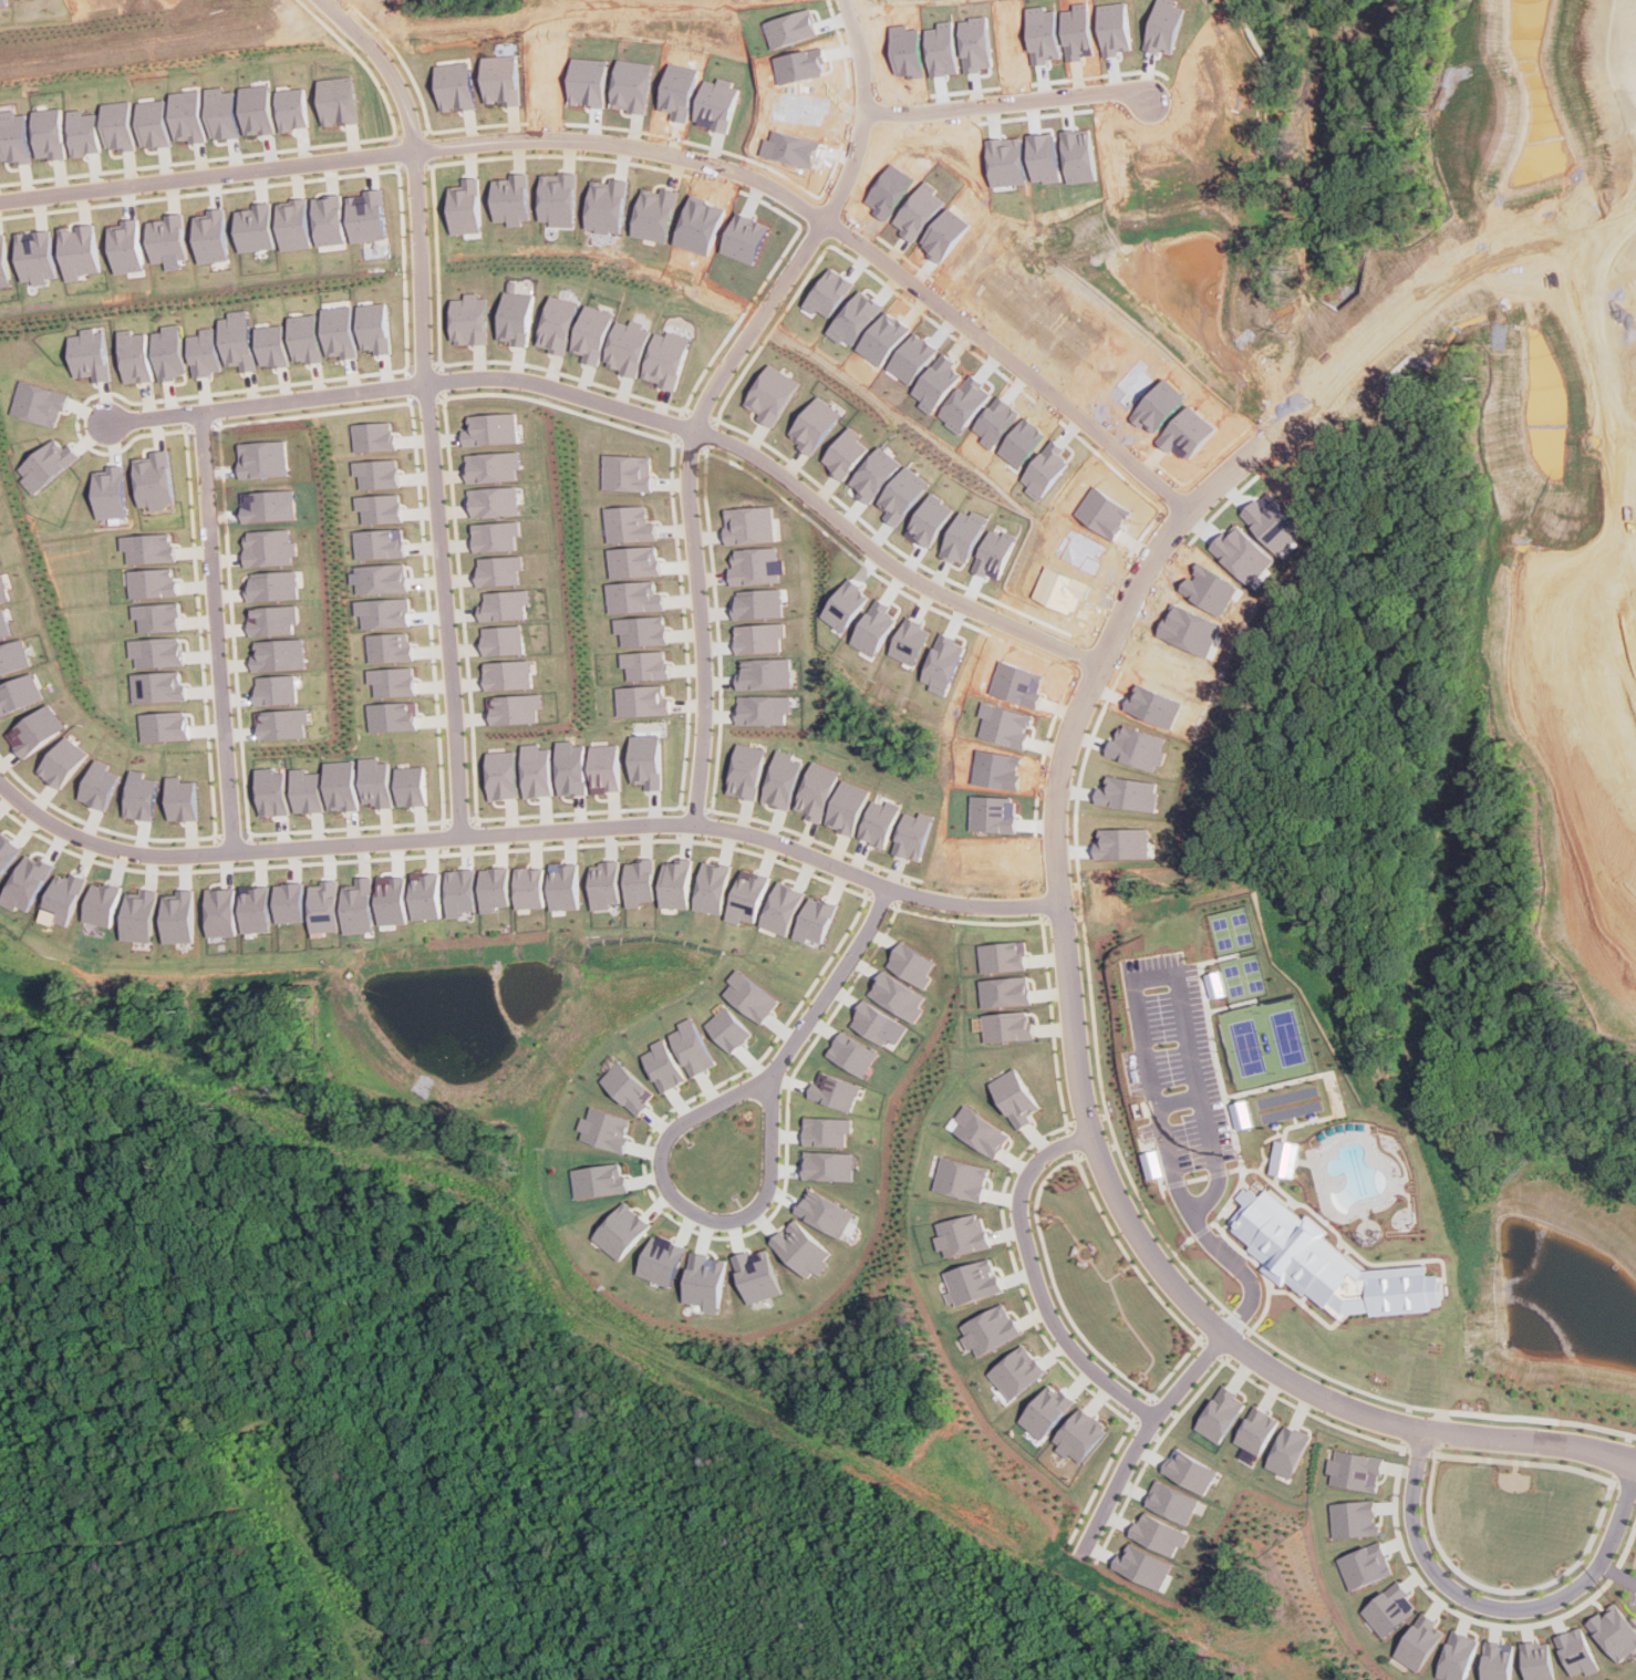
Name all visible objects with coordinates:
building: (500, 79)
building: (455, 86)
building: (338, 100)
road: (1016, 104)
building: (291, 108)
building: (257, 110)
road: (871, 112)
building: (221, 113)
building: (187, 115)
building: (154, 123)
building: (118, 125)
building: (84, 132)
building: (51, 133)
building: (17, 136)
road: (652, 149)
road: (415, 176)
building: (511, 198)
building: (558, 198)
building: (607, 206)
building: (465, 207)
building: (655, 214)
building: (367, 216)
building: (329, 221)
building: (294, 225)
building: (256, 228)
building: (213, 236)
building: (169, 240)
building: (130, 248)
building: (80, 250)
building: (38, 256)
building: (4, 263)
building: (517, 317)
building: (472, 319)
road: (760, 323)
building: (560, 324)
building: (377, 328)
building: (343, 331)
building: (594, 333)
building: (309, 338)
building: (240, 340)
building: (276, 345)
building: (631, 346)
building: (172, 352)
building: (207, 352)
building: (92, 354)
building: (136, 355)
building: (670, 359)
building: (774, 394)
building: (41, 404)
road: (635, 411)
building: (816, 424)
building: (494, 428)
building: (375, 436)
road: (1627, 440)
building: (845, 454)
building: (49, 465)
building: (493, 466)
road: (1234, 468)
building: (377, 473)
building: (631, 473)
building: (155, 479)
building: (111, 491)
building: (494, 500)
building: (267, 505)
building: (380, 508)
building: (630, 523)
building: (747, 525)
building: (494, 536)
building: (380, 543)
building: (269, 547)
building: (148, 548)
building: (632, 561)
building: (753, 566)
building: (497, 570)
building: (382, 579)
building: (154, 582)
building: (272, 585)
building: (2, 590)
building: (631, 597)
building: (754, 603)
building: (500, 605)
road: (443, 610)
building: (157, 616)
building: (271, 619)
building: (3, 624)
road: (698, 628)
building: (638, 630)
road: (214, 633)
building: (756, 637)
road: (1632, 639)
building: (498, 640)
building: (389, 646)
building: (156, 652)
building: (279, 654)
building: (12, 655)
building: (641, 664)
building: (762, 673)
building: (501, 674)
building: (392, 681)
building: (158, 686)
building: (276, 689)
building: (18, 693)
building: (638, 699)
building: (508, 708)
building: (760, 708)
building: (392, 716)
building: (281, 723)
building: (164, 725)
building: (35, 729)
building: (643, 760)
building: (63, 761)
building: (567, 767)
building: (602, 768)
building: (532, 770)
building: (746, 770)
building: (498, 774)
building: (783, 779)
building: (374, 781)
building: (99, 785)
building: (340, 785)
building: (408, 785)
building: (817, 790)
building: (270, 791)
building: (304, 791)
building: (139, 797)
building: (179, 798)
building: (849, 807)
building: (880, 821)
road: (528, 832)
building: (914, 834)
building: (1125, 843)
building: (8, 851)
building: (640, 882)
building: (28, 883)
building: (676, 883)
building: (604, 884)
building: (563, 886)
building: (714, 886)
building: (494, 888)
building: (529, 888)
building: (459, 892)
building: (426, 894)
building: (749, 896)
building: (63, 898)
building: (391, 901)
building: (288, 902)
building: (101, 904)
building: (323, 906)
building: (358, 906)
building: (253, 909)
building: (784, 909)
building: (219, 912)
building: (138, 915)
building: (177, 916)
building: (816, 922)
building: (1003, 956)
building: (911, 964)
building: (1219, 984)
building: (1005, 991)
building: (754, 996)
building: (898, 996)
road: (1143, 1022)
building: (874, 1023)
building: (1008, 1026)
building: (734, 1029)
building: (697, 1047)
building: (853, 1054)
building: (669, 1065)
building: (632, 1087)
building: (838, 1091)
building: (1017, 1096)
road: (1181, 1101)
building: (1244, 1113)
road: (692, 1120)
building: (607, 1128)
building: (829, 1130)
building: (983, 1131)
building: (1286, 1159)
building: (1156, 1164)
building: (830, 1165)
road: (1086, 1178)
building: (965, 1179)
building: (601, 1180)
building: (825, 1212)
road: (1052, 1212)
road: (1044, 1217)
road: (1049, 1220)
road: (1068, 1226)
building: (623, 1230)
building: (964, 1234)
building: (800, 1248)
road: (1094, 1253)
building: (663, 1259)
building: (1329, 1264)
road: (1128, 1266)
road: (1124, 1269)
road: (1035, 1273)
building: (755, 1275)
road: (1101, 1277)
building: (704, 1280)
building: (972, 1282)
road: (1067, 1313)
road: (1214, 1315)
road: (1131, 1328)
building: (988, 1329)
road: (1185, 1330)
building: (1015, 1371)
road: (1140, 1376)
road: (1138, 1380)
road: (1141, 1390)
road: (1147, 1400)
road: (1154, 1400)
building: (1044, 1411)
building: (1218, 1414)
building: (1254, 1429)
road: (1142, 1432)
building: (1077, 1434)
building: (1284, 1451)
road: (1635, 1459)
road: (1635, 1461)
building: (1352, 1470)
building: (1187, 1471)
building: (1169, 1502)
building: (1350, 1518)
building: (1157, 1534)
building: (1140, 1565)
building: (1361, 1565)
road: (1617, 1570)
road: (1497, 1607)
building: (1388, 1609)
building: (1613, 1631)
building: (1418, 1642)
building: (1575, 1651)
building: (1457, 1657)
building: (1536, 1660)
building: (1497, 1661)

